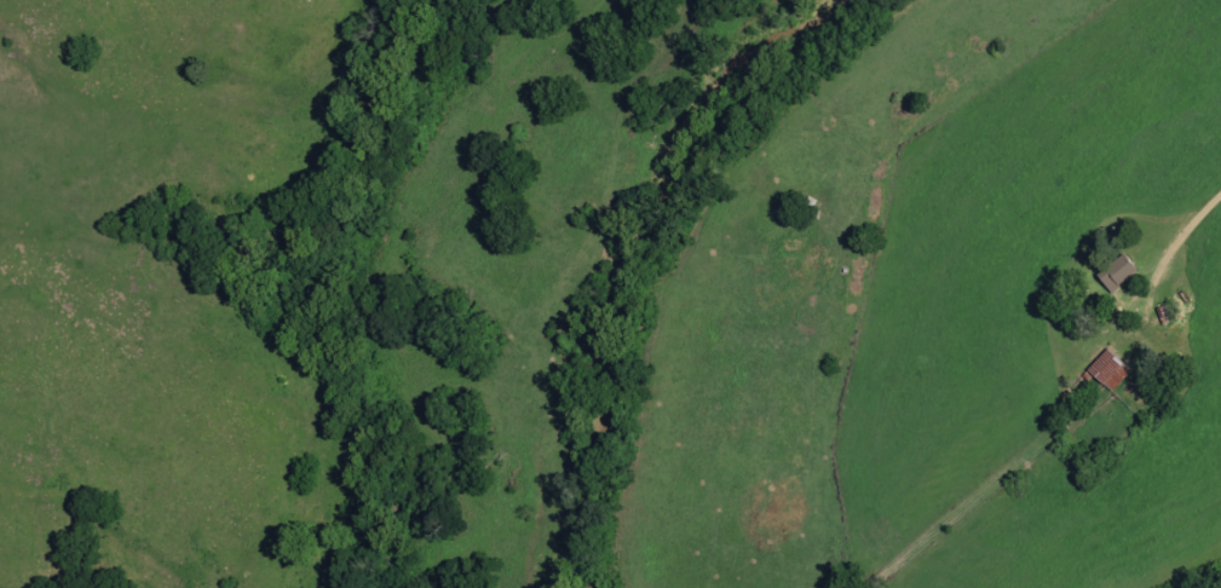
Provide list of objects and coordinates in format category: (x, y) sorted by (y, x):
road: (1176, 236)
building: (1118, 273)
building: (1111, 370)

